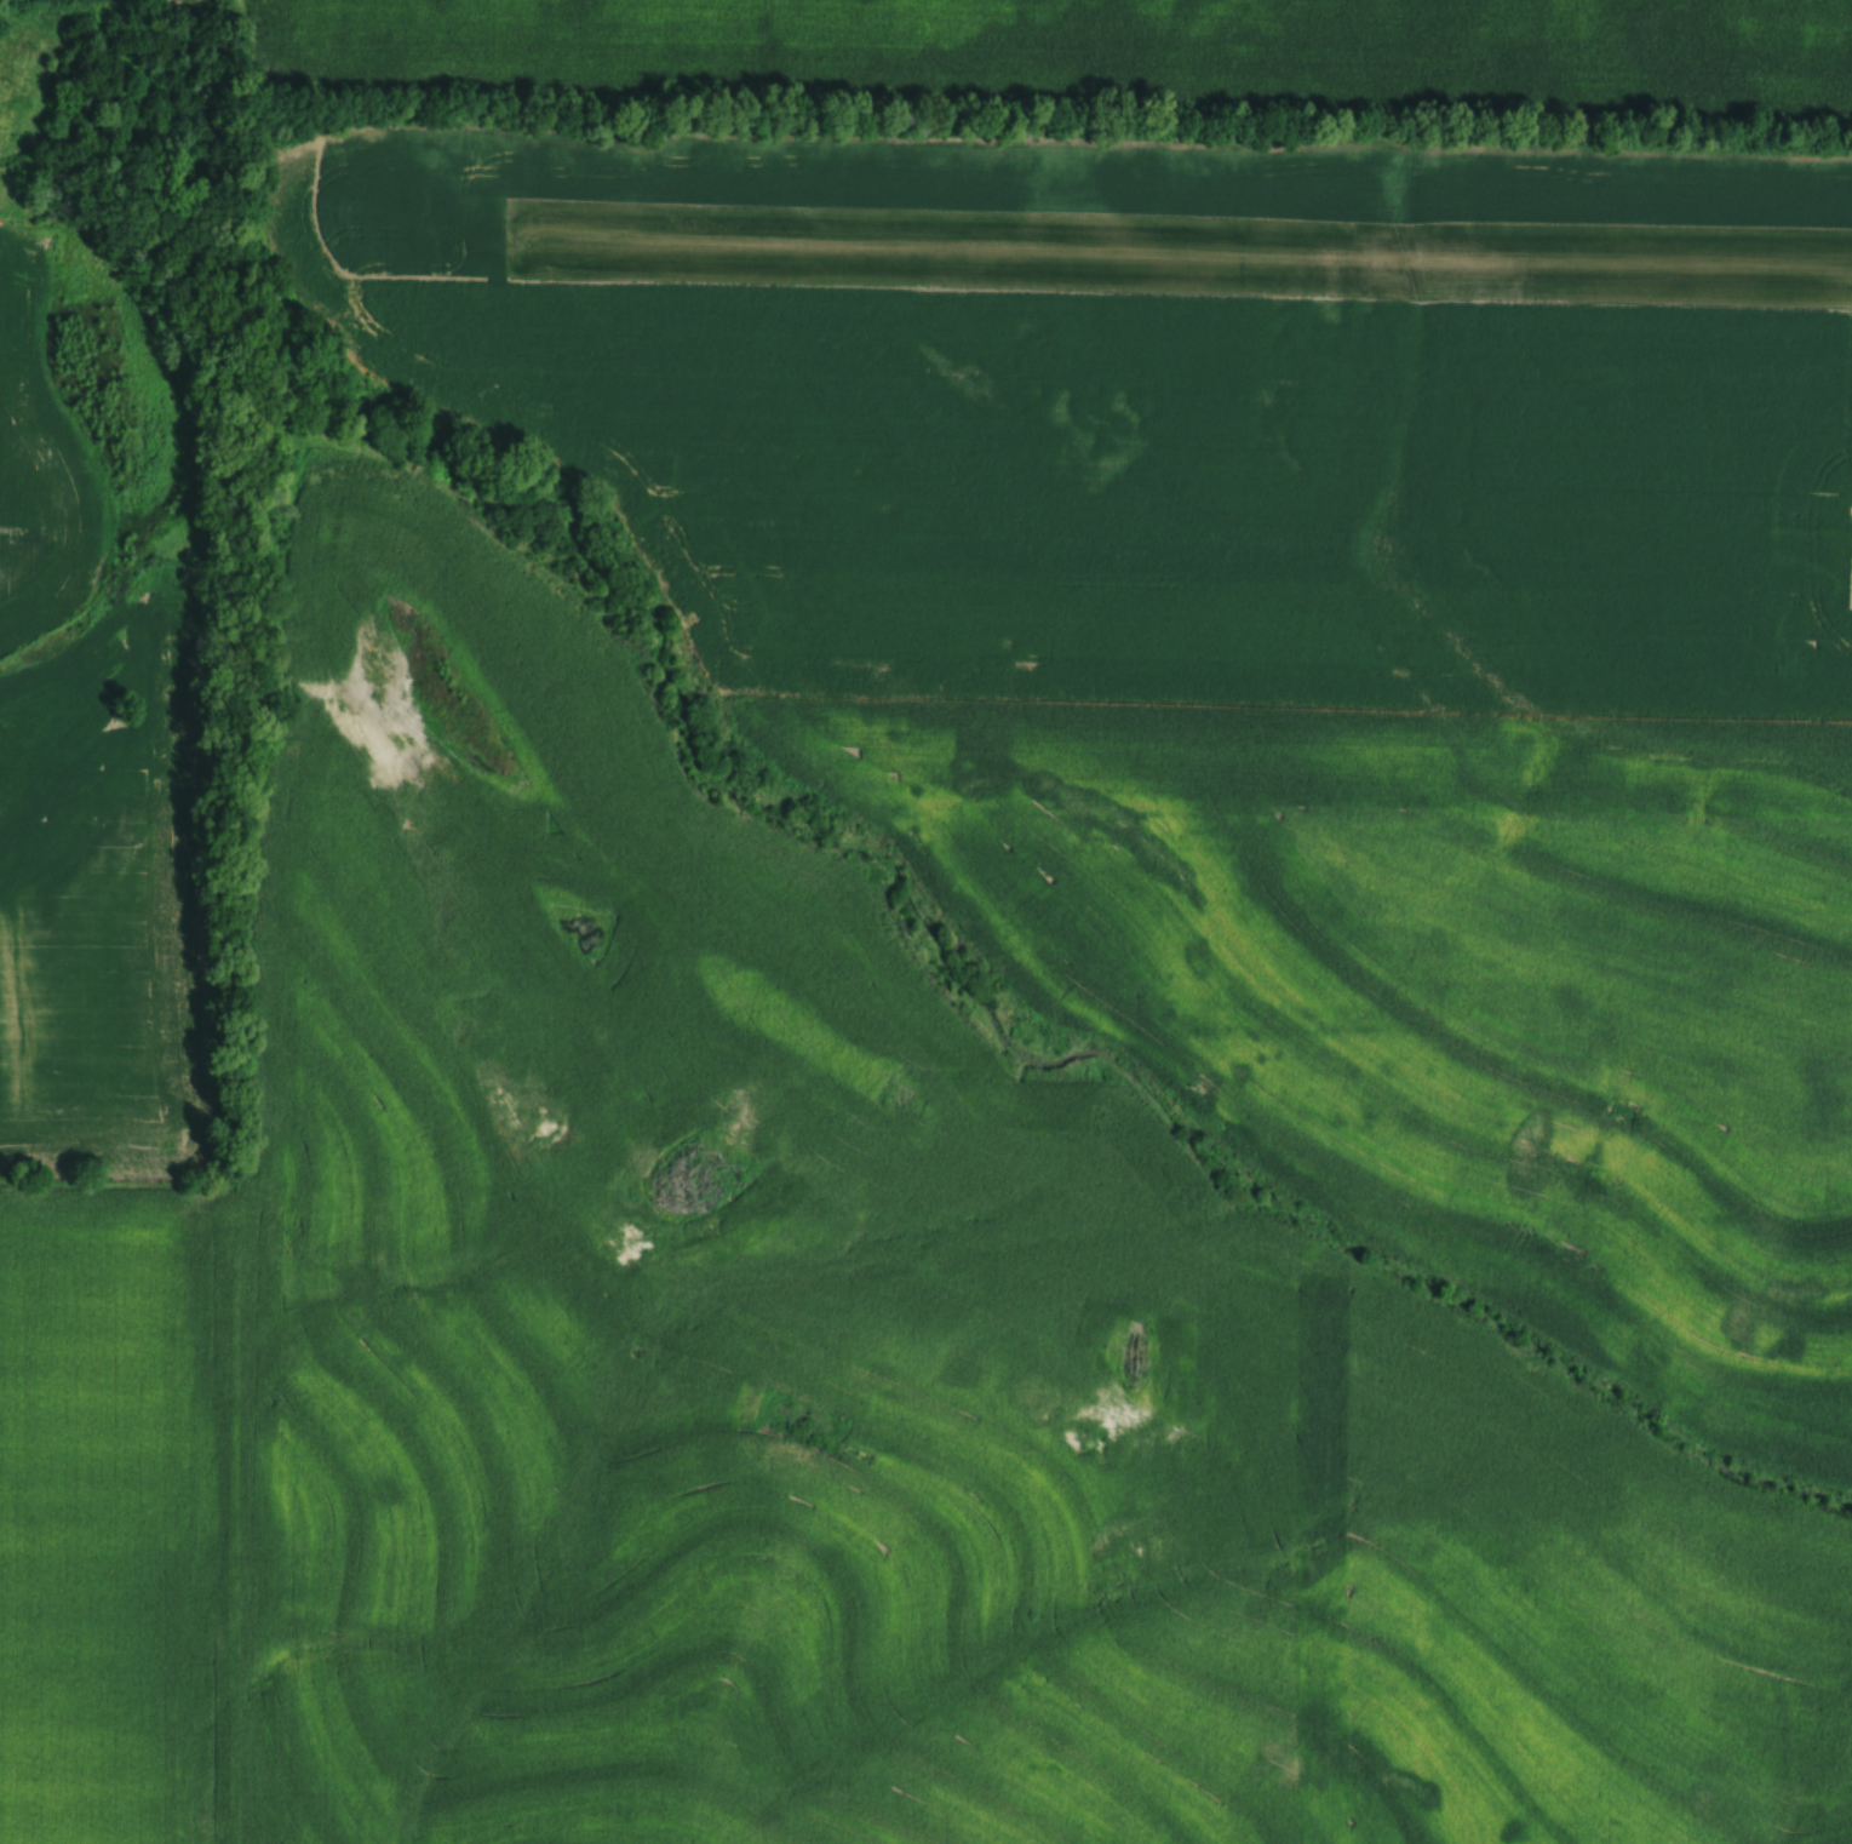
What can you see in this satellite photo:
airport runway: (1082, 222)
airport: (1164, 411)

